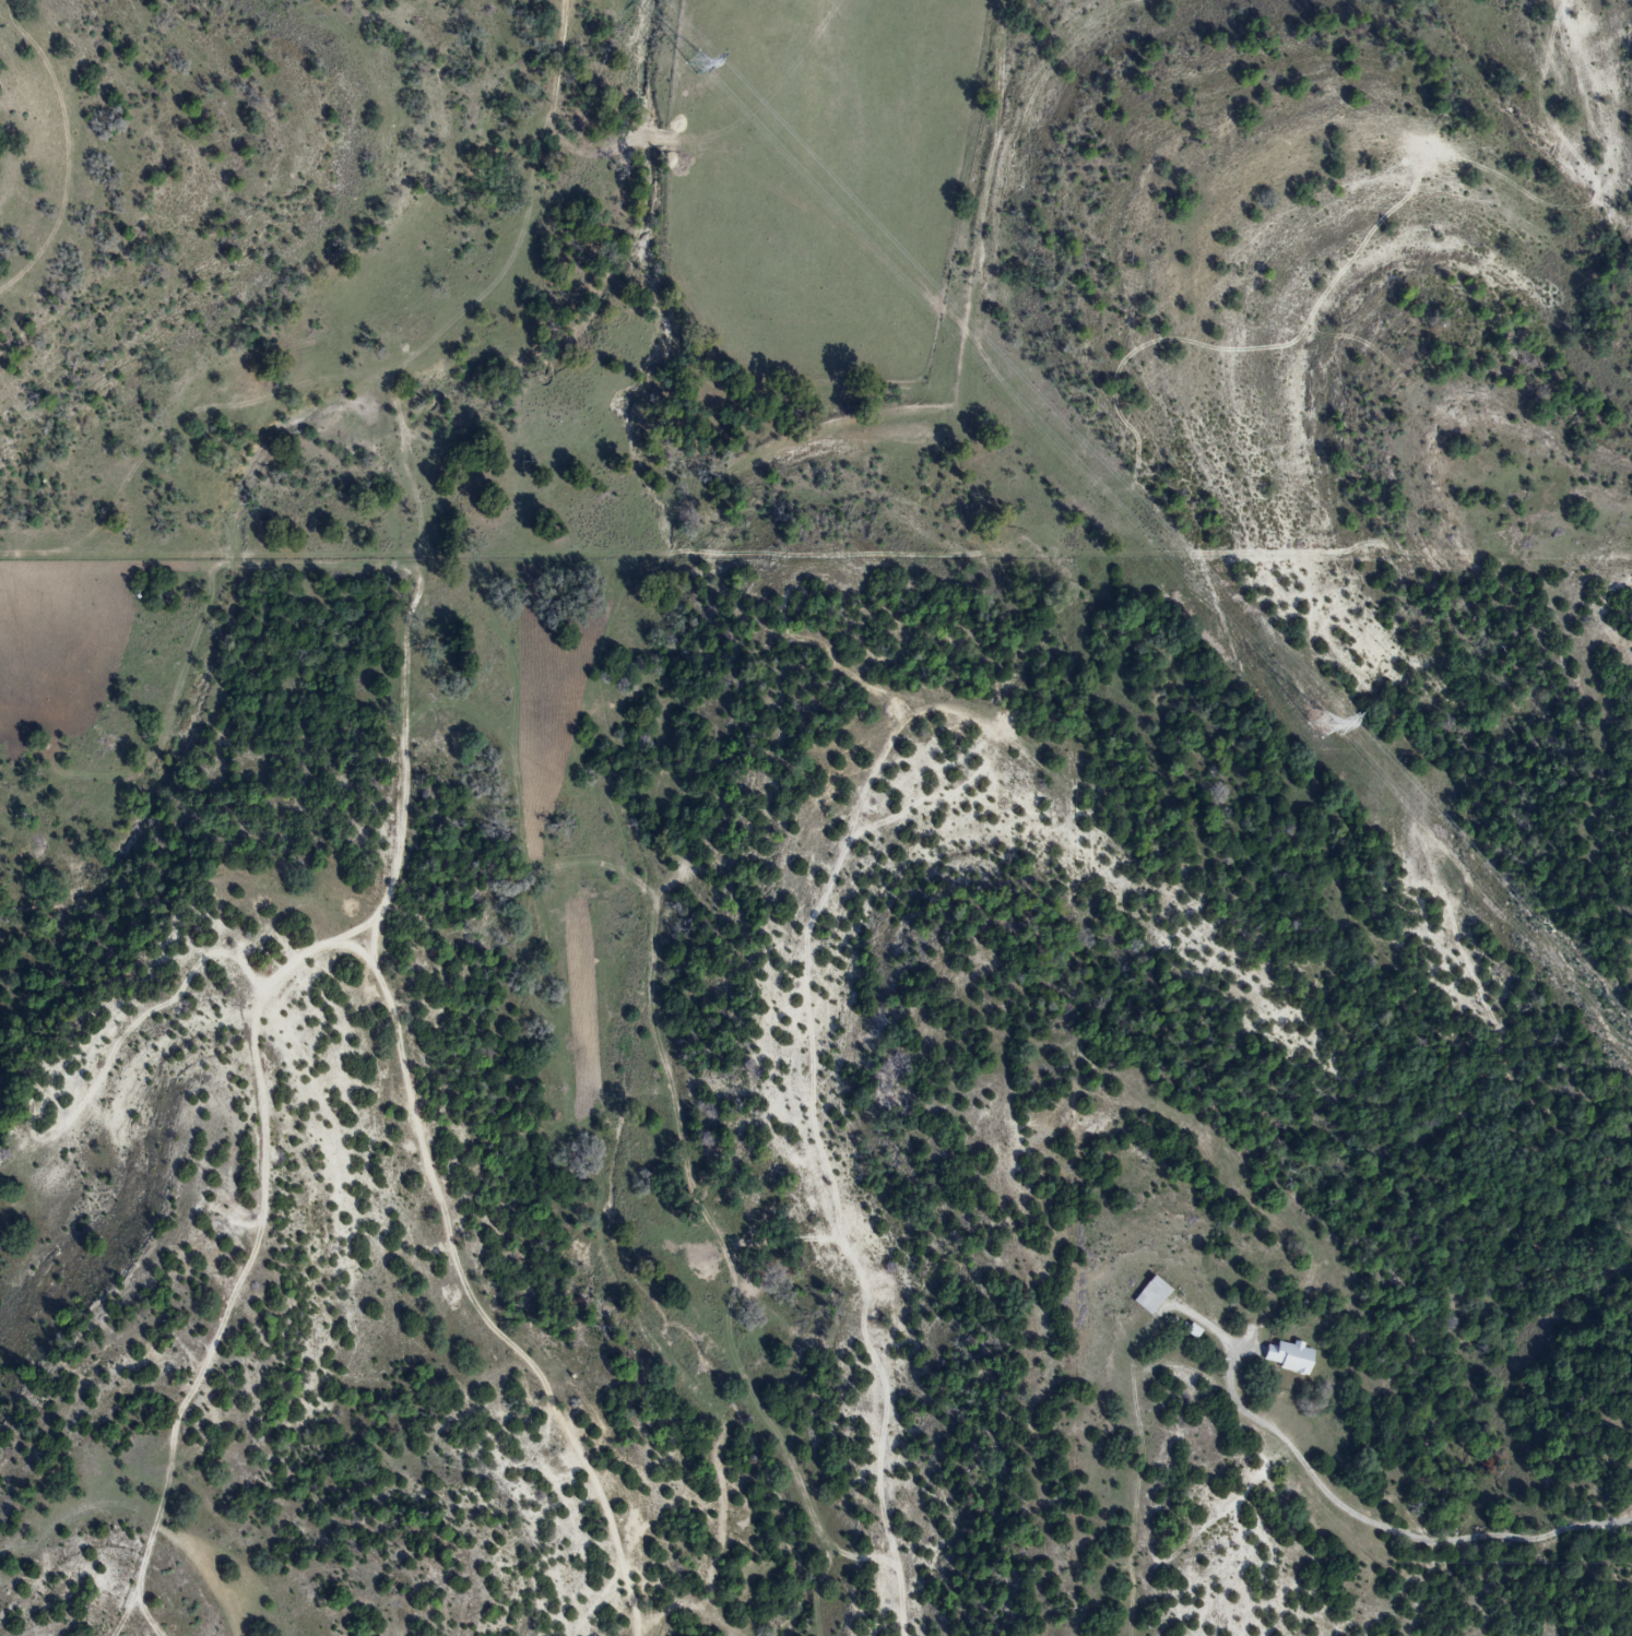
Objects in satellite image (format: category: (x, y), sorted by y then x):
power tower: (699, 64)
power tower: (1317, 728)
road: (395, 847)
building: (1150, 1296)
building: (1287, 1356)
road: (1383, 1529)

